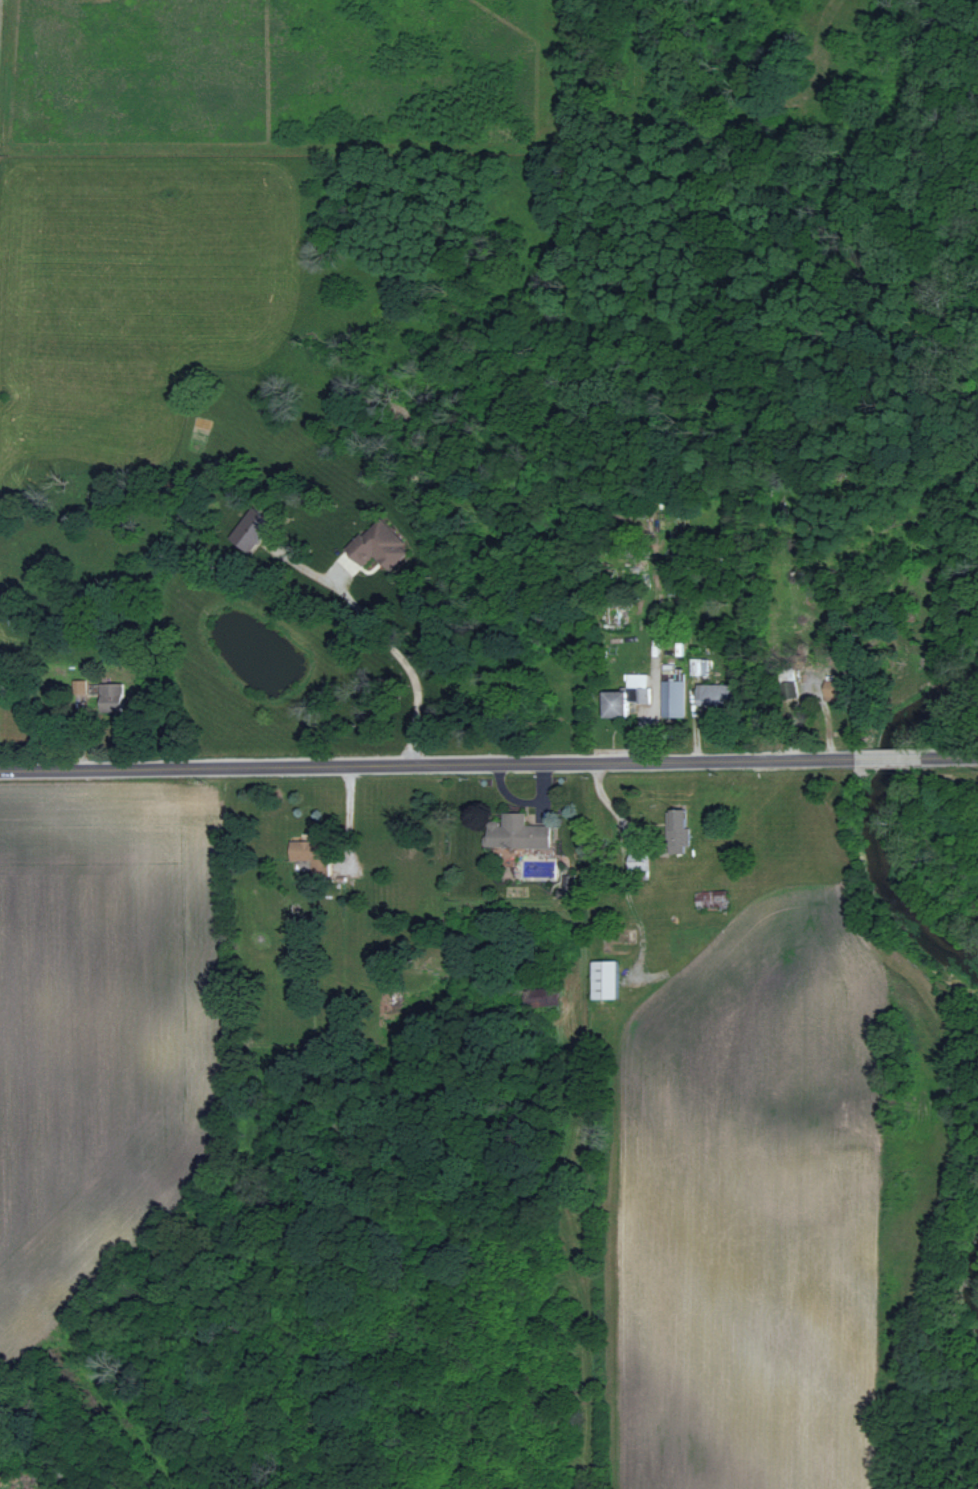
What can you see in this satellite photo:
building: (250, 528)
building: (380, 544)
road: (402, 658)
building: (700, 666)
building: (80, 685)
building: (837, 689)
building: (716, 693)
building: (627, 694)
building: (114, 696)
building: (674, 697)
road: (488, 763)
building: (682, 825)
building: (519, 831)
building: (311, 853)
building: (641, 860)
building: (704, 898)
building: (607, 978)

